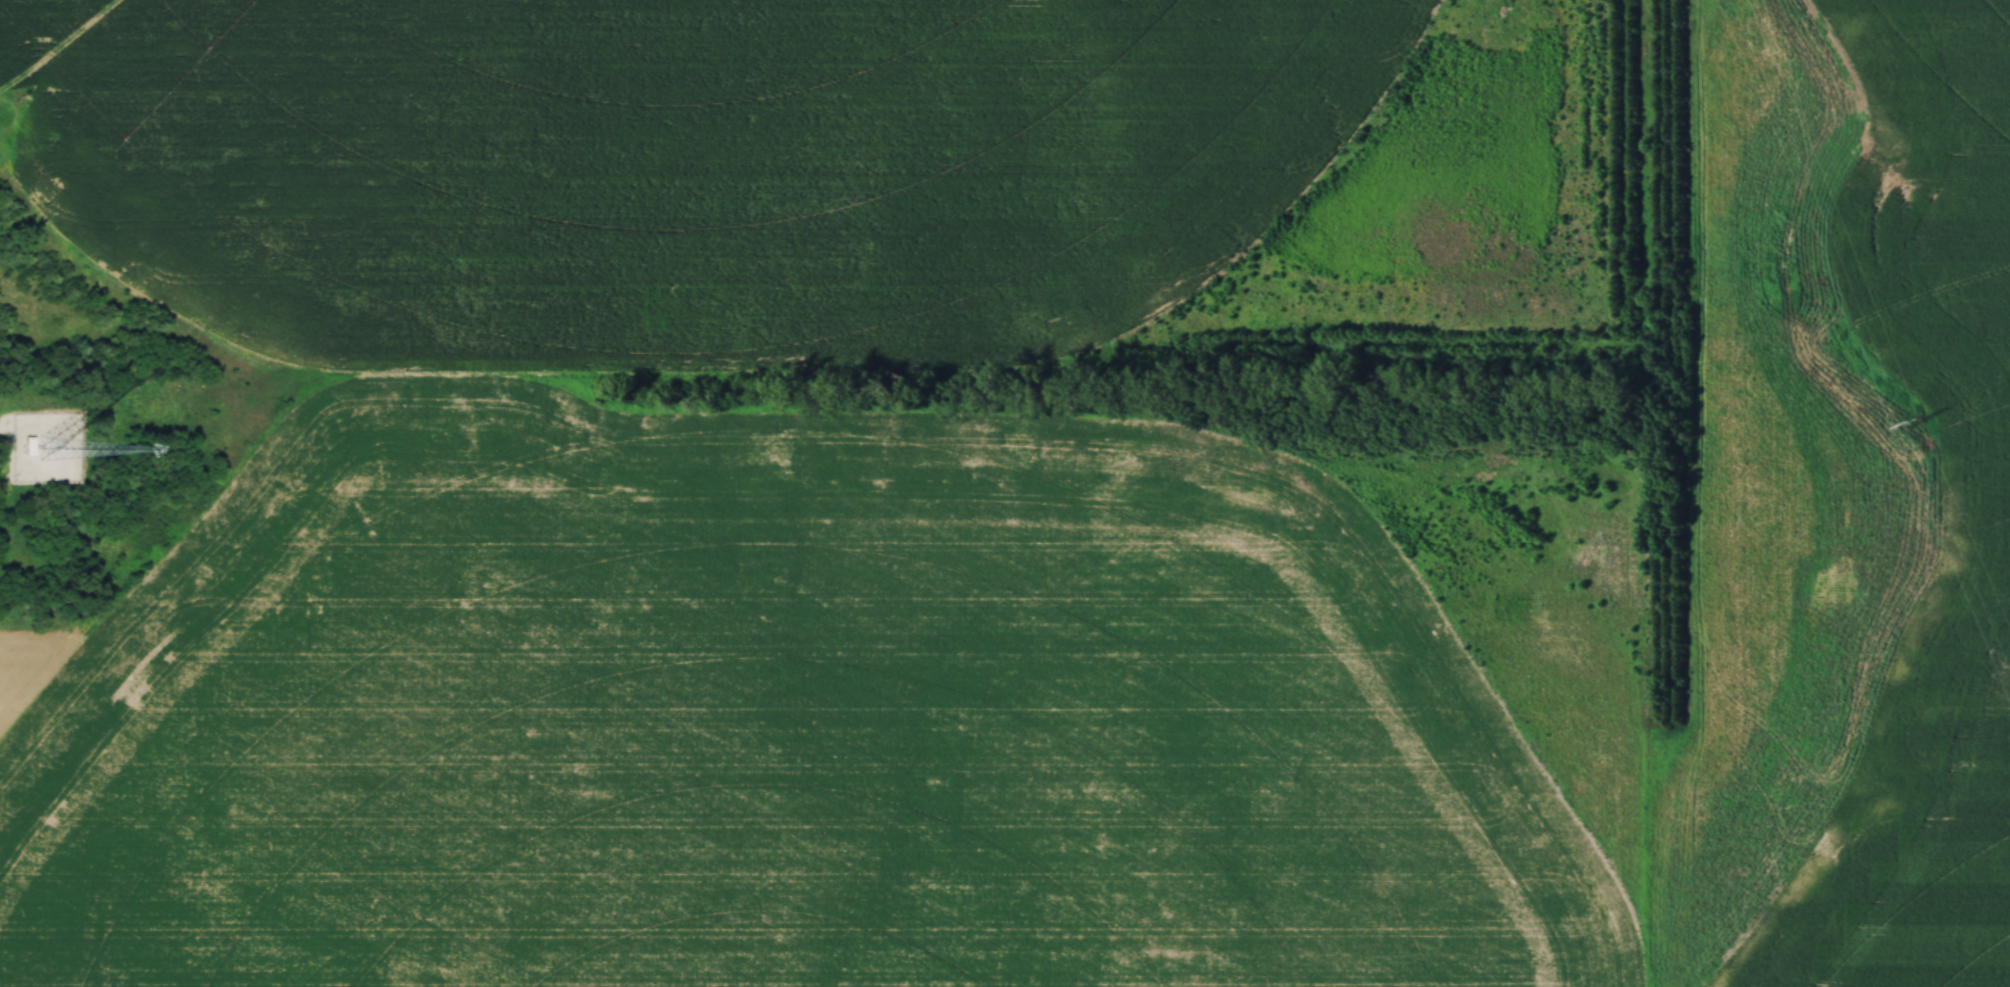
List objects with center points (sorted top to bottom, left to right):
power tower: (1919, 426)

